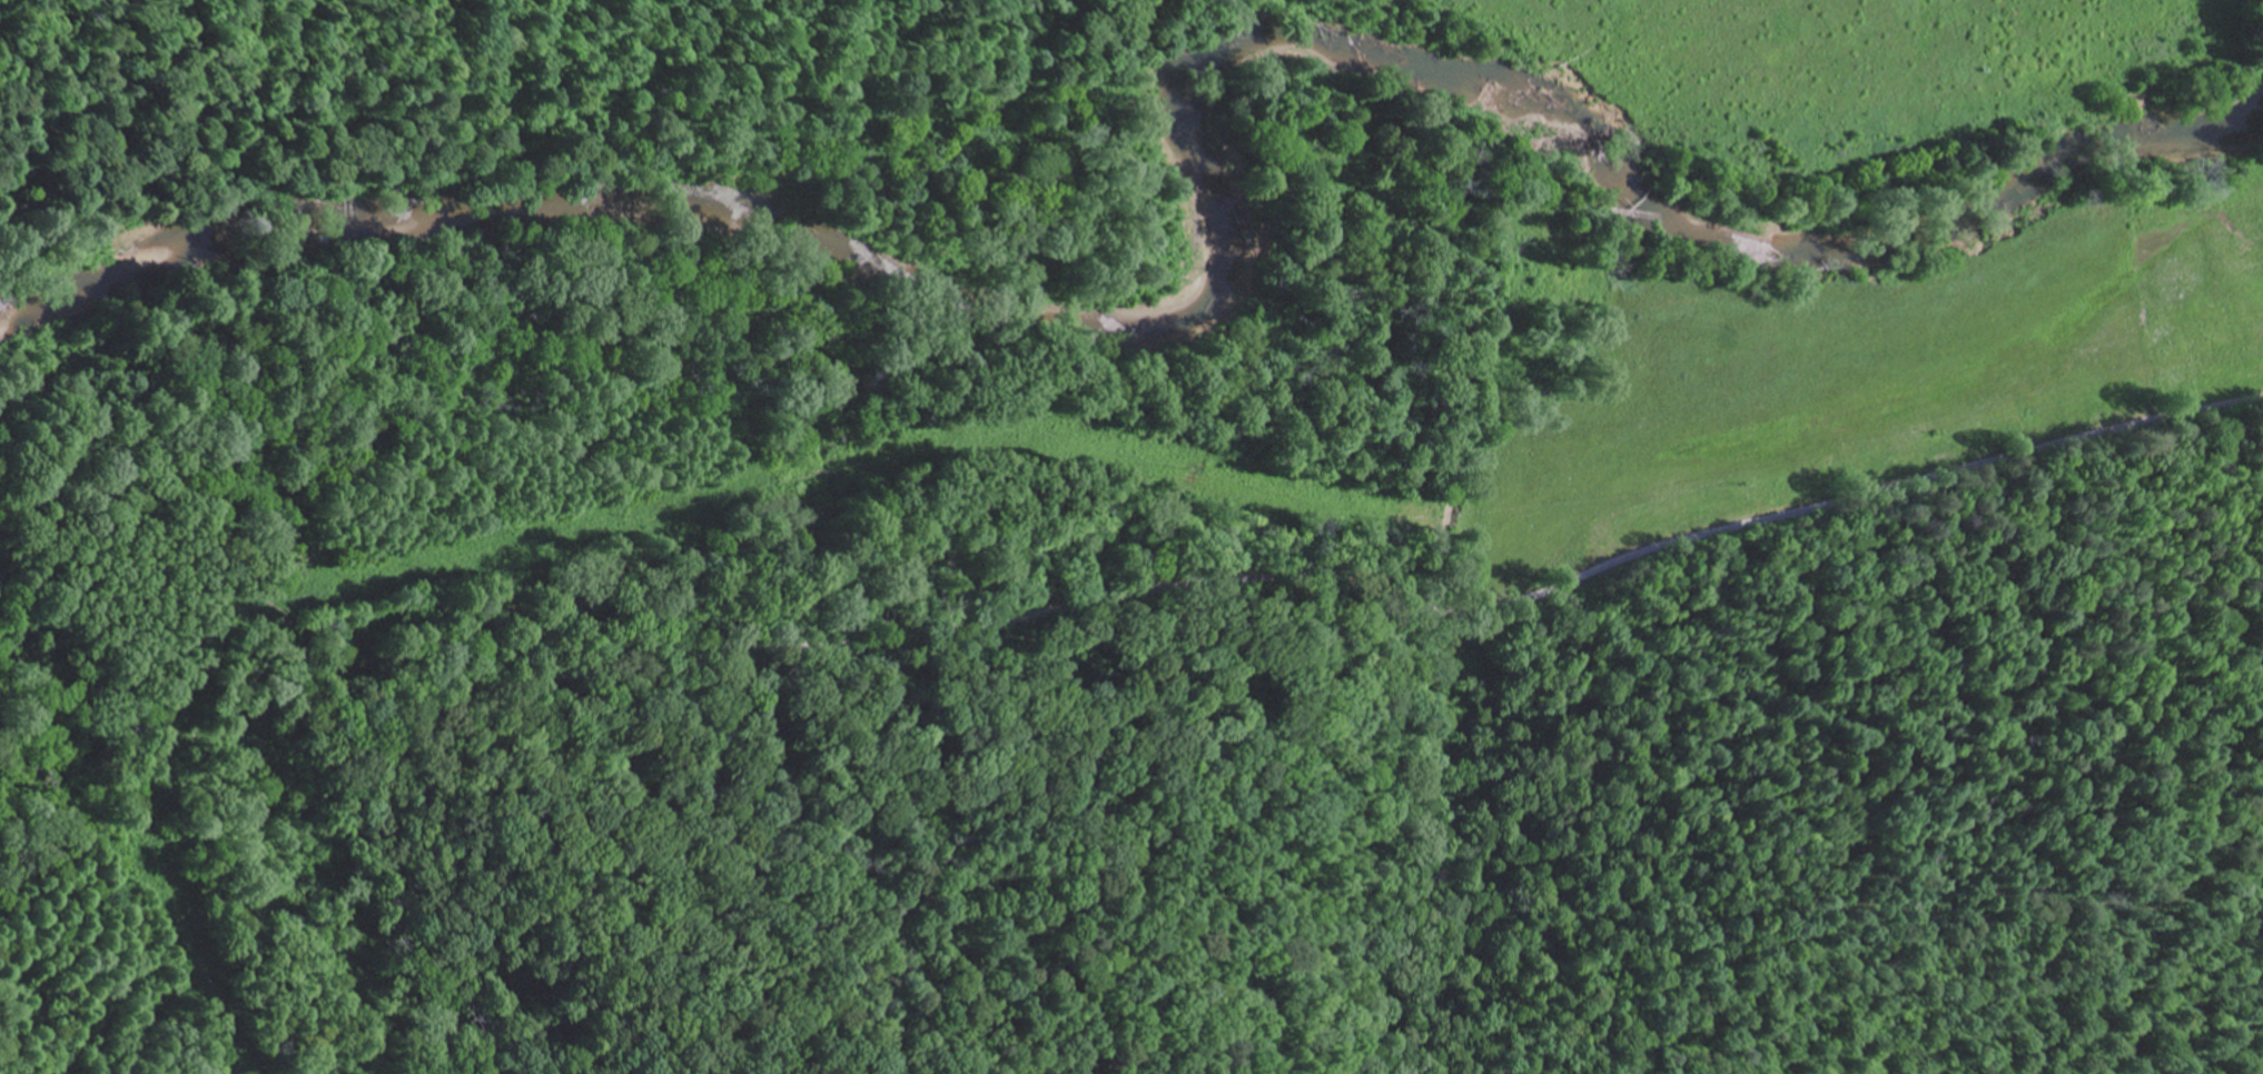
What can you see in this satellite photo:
river: (1213, 215)
road: (1155, 589)

